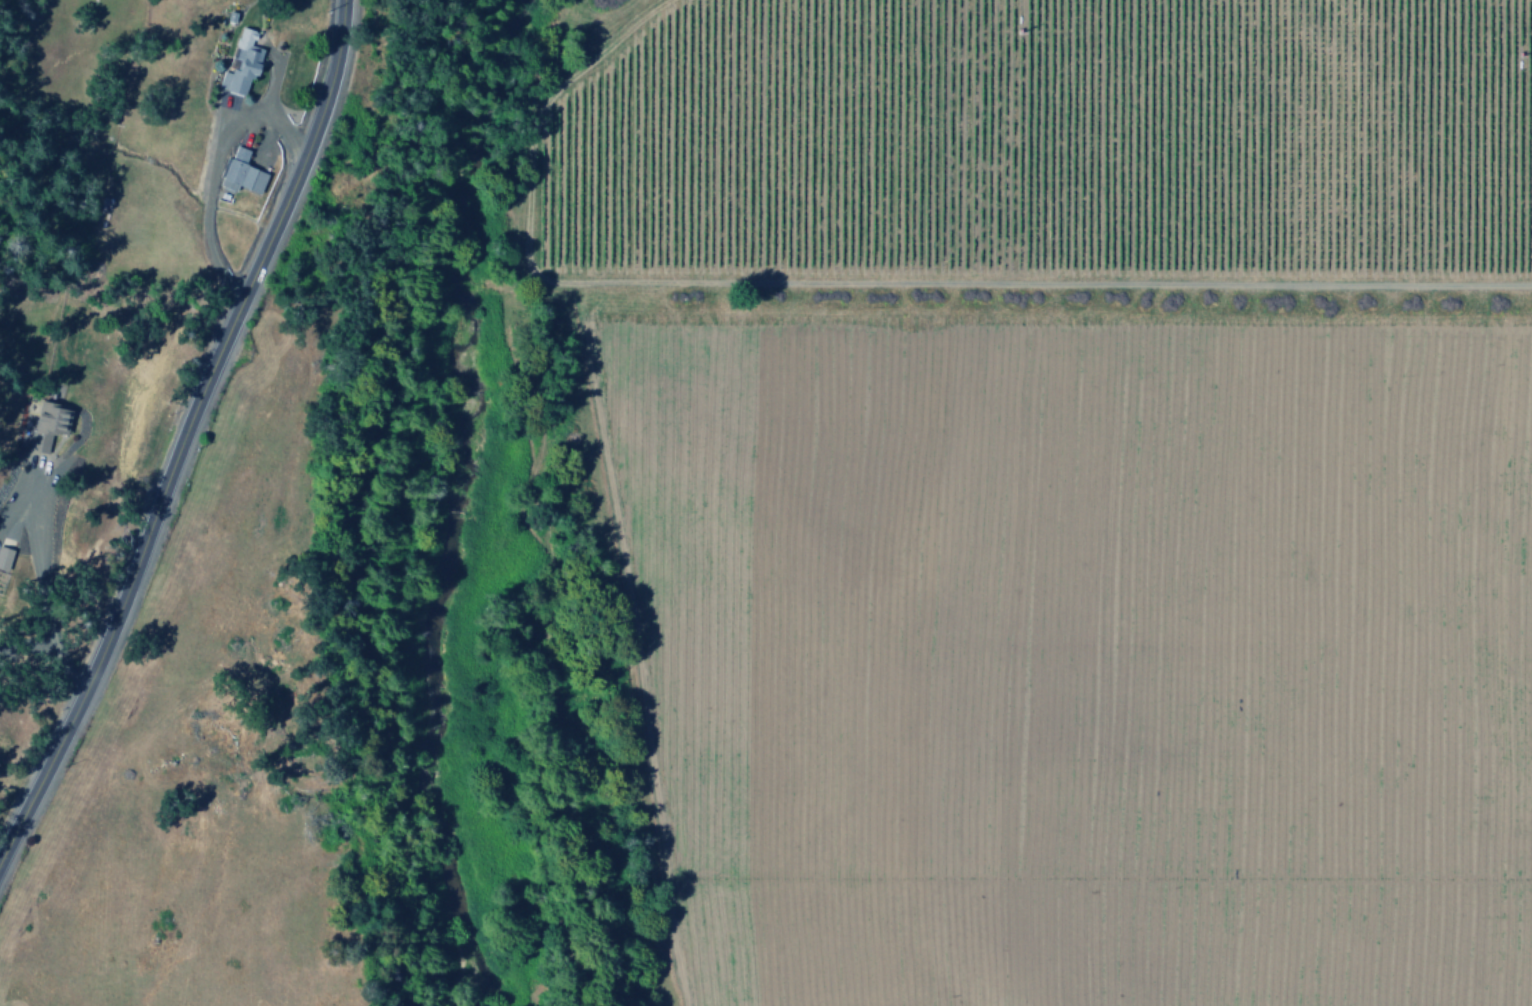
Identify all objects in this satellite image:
building: (239, 64)
building: (239, 172)
road: (861, 284)
building: (44, 425)
road: (213, 440)
building: (3, 558)

